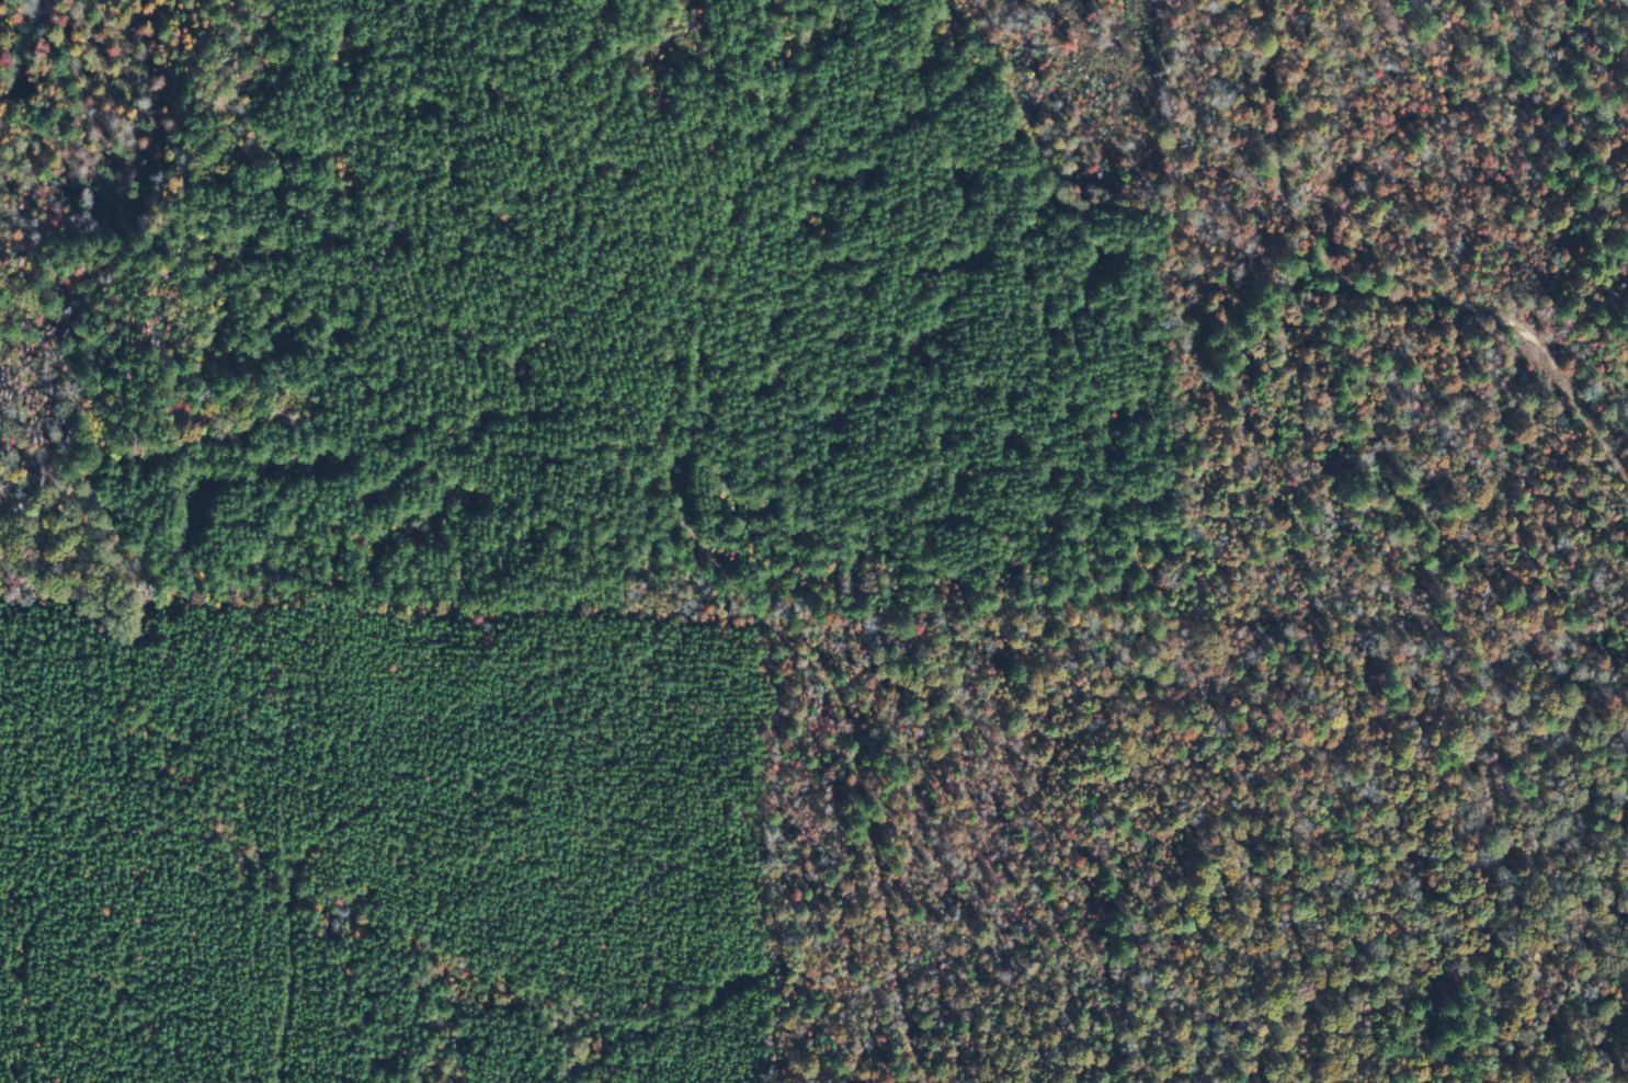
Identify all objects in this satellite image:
road: (1478, 481)

